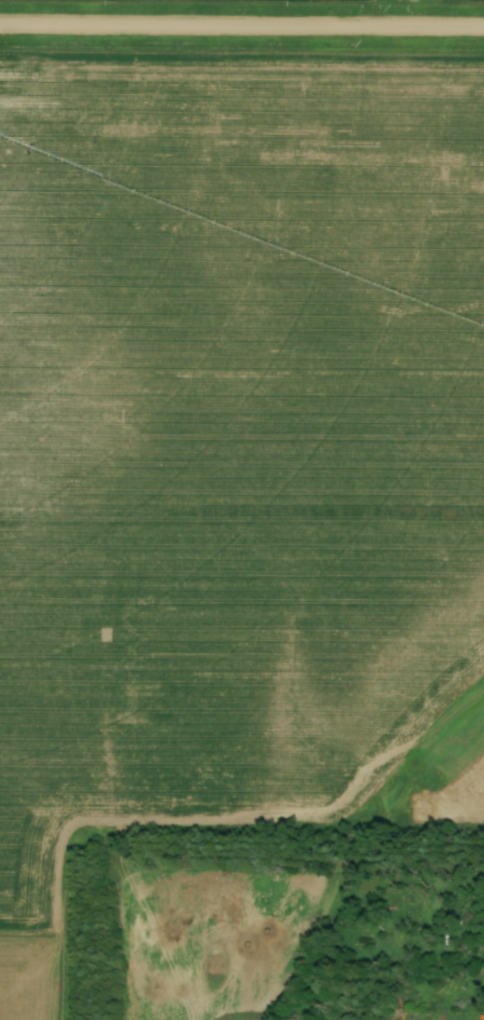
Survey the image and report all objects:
road: (242, 29)

